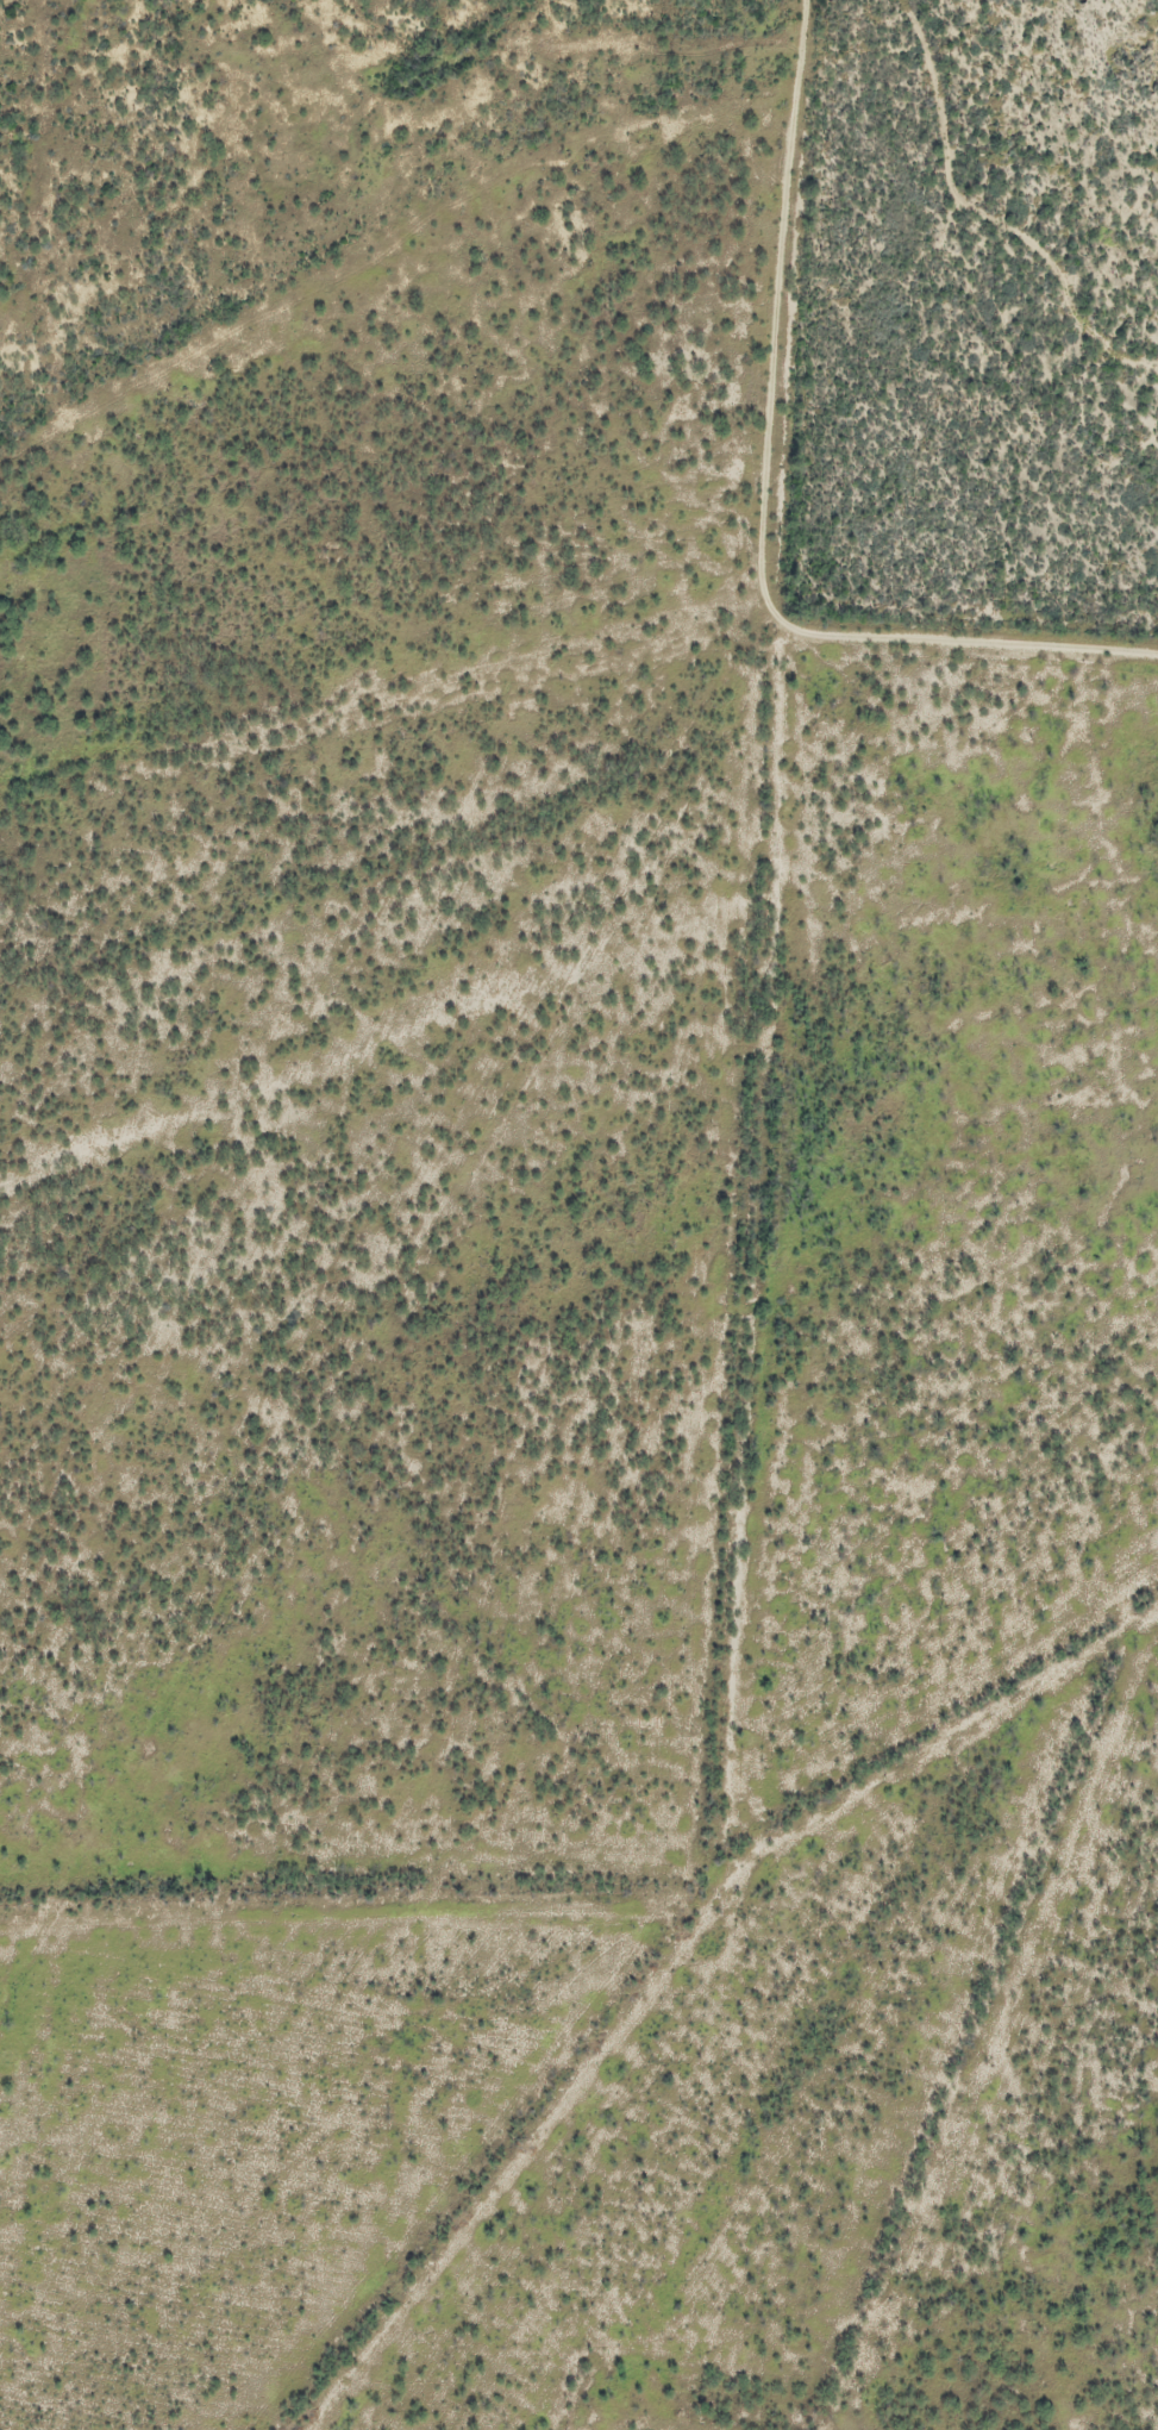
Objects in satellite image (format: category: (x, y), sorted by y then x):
road: (762, 502)

